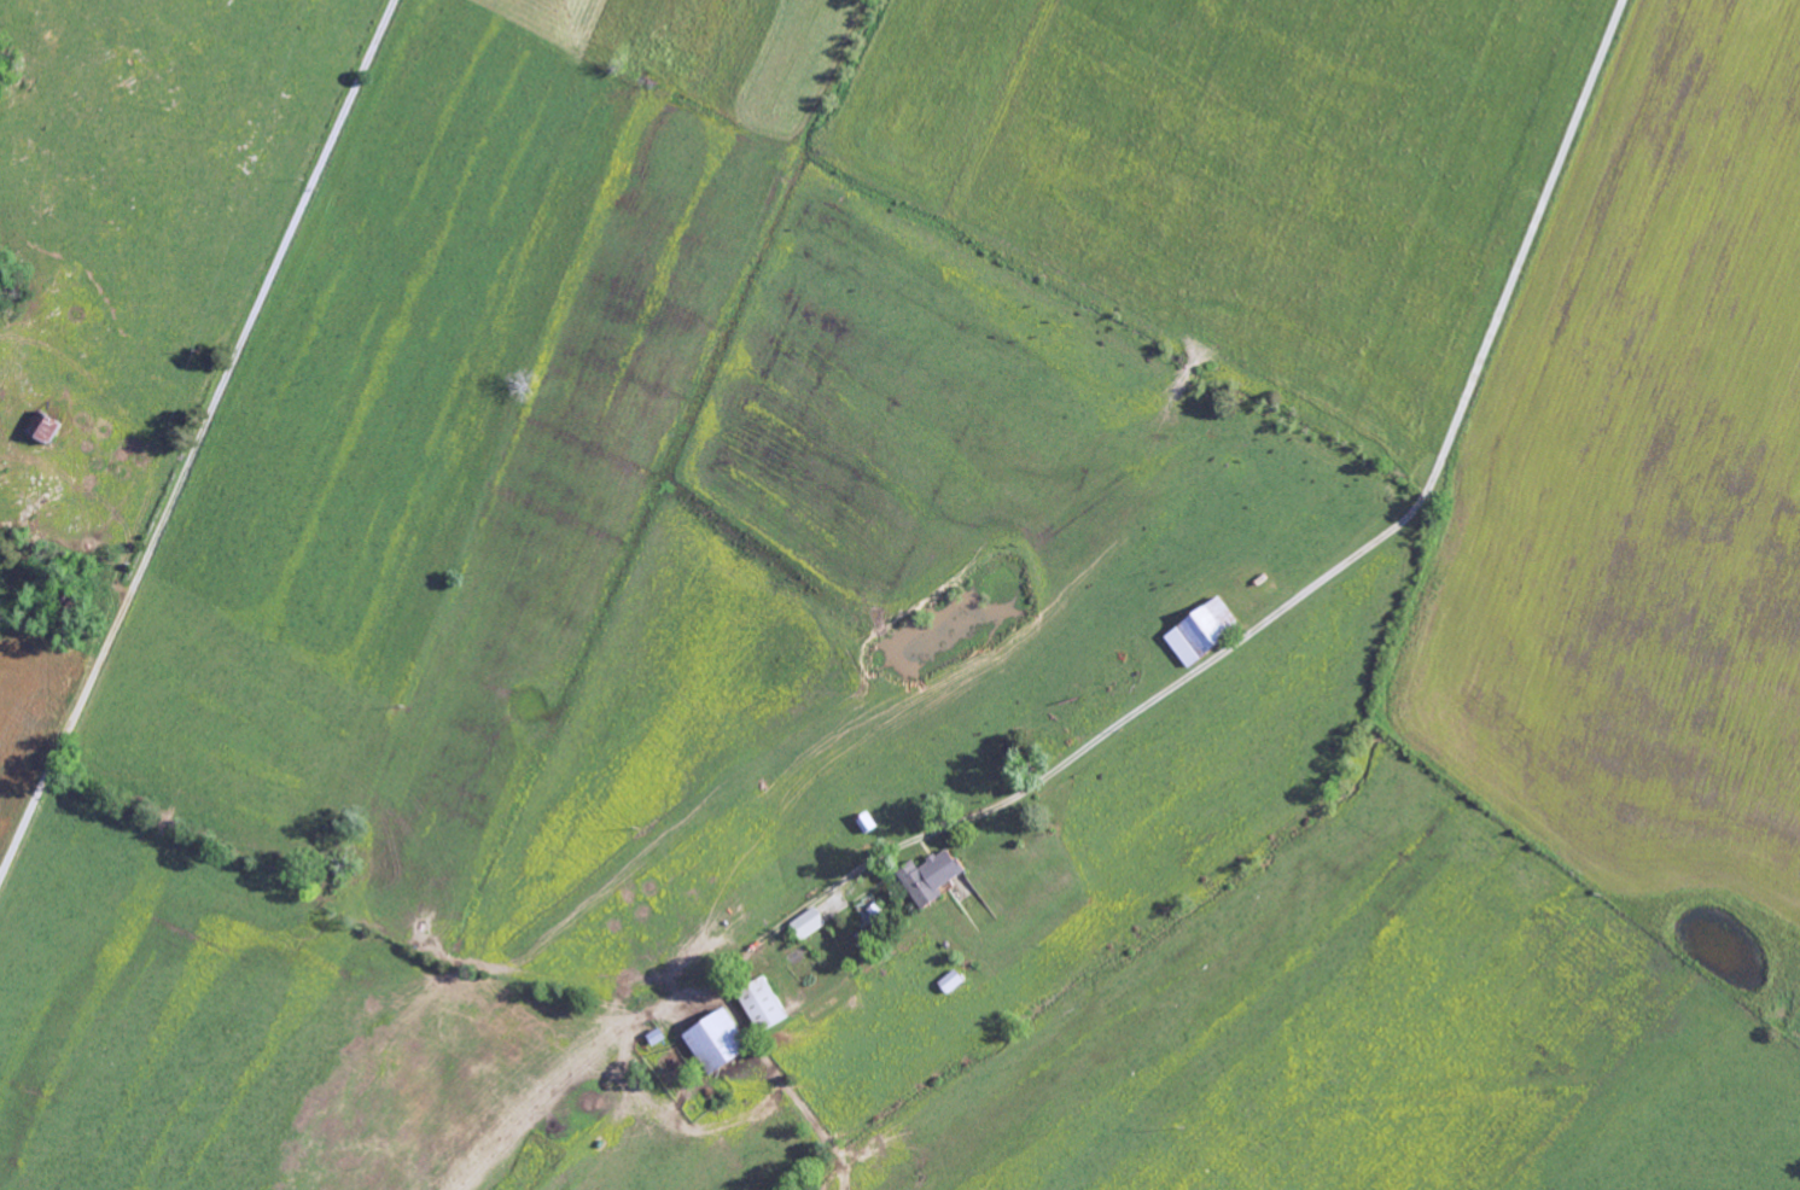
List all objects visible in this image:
road: (1524, 247)
building: (46, 427)
road: (199, 441)
road: (1422, 497)
building: (1206, 632)
road: (1077, 754)
building: (934, 877)
building: (812, 924)
building: (954, 982)
building: (767, 1005)
building: (722, 1043)

